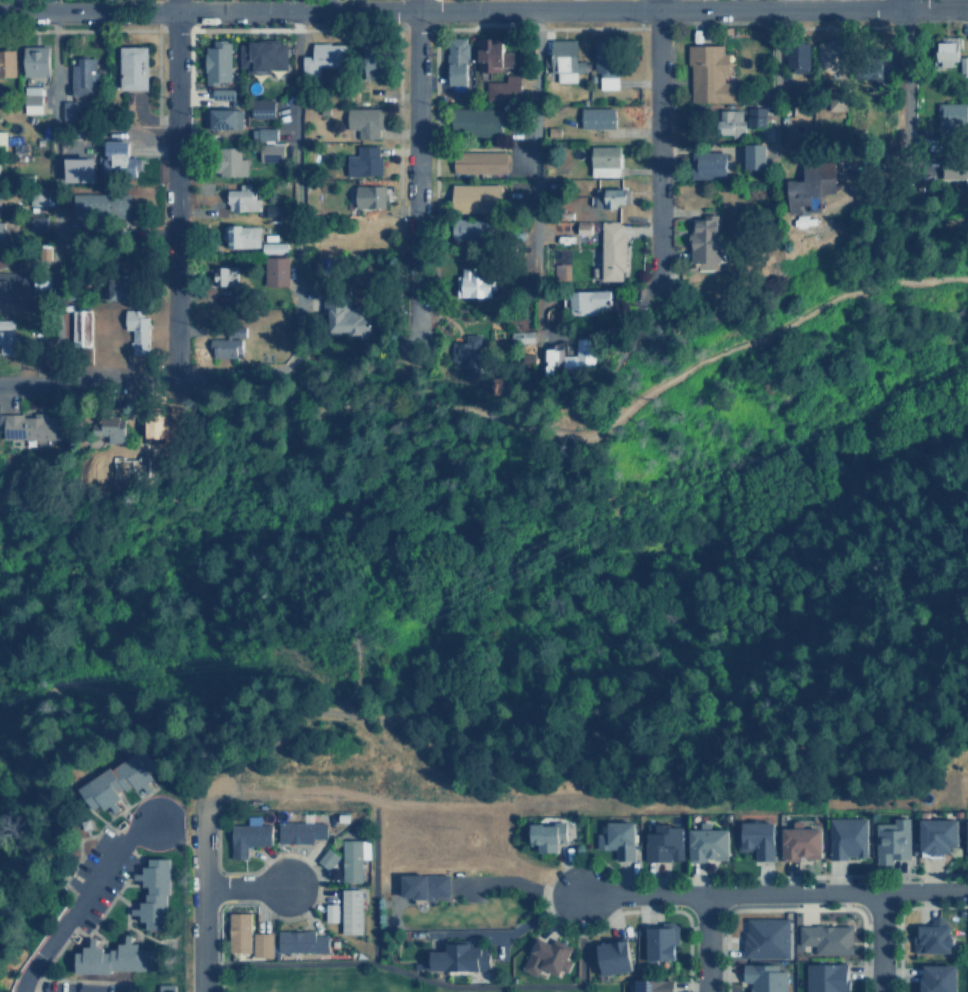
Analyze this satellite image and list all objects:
road: (531, 4)
road: (483, 9)
building: (948, 52)
building: (264, 55)
building: (494, 55)
building: (829, 55)
building: (799, 56)
building: (324, 58)
building: (565, 59)
building: (37, 60)
building: (458, 61)
building: (219, 62)
building: (373, 62)
building: (8, 63)
building: (607, 63)
building: (964, 64)
road: (904, 65)
building: (135, 67)
building: (709, 74)
road: (771, 75)
building: (84, 77)
building: (504, 89)
building: (224, 93)
building: (32, 99)
building: (264, 108)
building: (68, 110)
building: (951, 116)
building: (757, 117)
building: (226, 118)
building: (598, 118)
building: (476, 119)
building: (731, 121)
building: (365, 122)
building: (264, 133)
road: (655, 138)
building: (3, 139)
building: (271, 152)
building: (756, 156)
building: (120, 161)
building: (365, 161)
building: (606, 161)
building: (232, 162)
building: (480, 162)
building: (0, 163)
building: (709, 164)
road: (296, 168)
building: (956, 168)
road: (537, 169)
building: (82, 170)
road: (415, 178)
building: (813, 183)
road: (175, 186)
building: (371, 196)
building: (477, 197)
building: (611, 197)
road: (51, 198)
building: (243, 198)
building: (0, 200)
building: (102, 206)
building: (274, 210)
building: (39, 224)
building: (584, 227)
building: (468, 228)
building: (1, 231)
building: (242, 236)
building: (707, 242)
building: (274, 247)
building: (613, 251)
building: (45, 255)
building: (2, 259)
building: (560, 270)
building: (277, 271)
building: (225, 275)
building: (474, 284)
building: (121, 288)
building: (4, 289)
building: (593, 301)
building: (553, 313)
building: (347, 316)
building: (81, 328)
building: (137, 331)
building: (8, 342)
building: (227, 347)
building: (469, 353)
building: (584, 355)
building: (555, 360)
road: (352, 371)
road: (89, 383)
road: (488, 417)
building: (31, 428)
building: (110, 429)
park: (94, 560)
park: (610, 590)
road: (115, 702)
road: (185, 737)
road: (578, 758)
building: (118, 782)
road: (202, 796)
road: (99, 830)
building: (299, 832)
building: (936, 834)
building: (967, 834)
building: (247, 837)
building: (546, 837)
building: (757, 838)
building: (846, 838)
building: (618, 839)
building: (890, 840)
building: (664, 842)
building: (706, 842)
building: (799, 843)
building: (325, 858)
building: (351, 858)
road: (708, 876)
building: (422, 881)
road: (243, 885)
road: (317, 885)
road: (219, 886)
road: (374, 889)
road: (772, 892)
building: (155, 893)
road: (201, 897)
road: (80, 901)
road: (792, 908)
road: (669, 910)
building: (344, 912)
road: (896, 915)
road: (878, 926)
road: (705, 927)
road: (134, 928)
building: (243, 935)
building: (765, 936)
building: (931, 938)
building: (662, 939)
building: (826, 939)
road: (65, 940)
road: (879, 941)
building: (298, 942)
road: (707, 942)
road: (112, 945)
building: (546, 956)
building: (611, 956)
building: (460, 957)
building: (117, 958)
road: (216, 977)
road: (425, 977)
building: (766, 978)
building: (825, 978)
building: (936, 978)
road: (34, 984)
parking lot: (80, 985)
building: (651, 985)
building: (166, 987)

